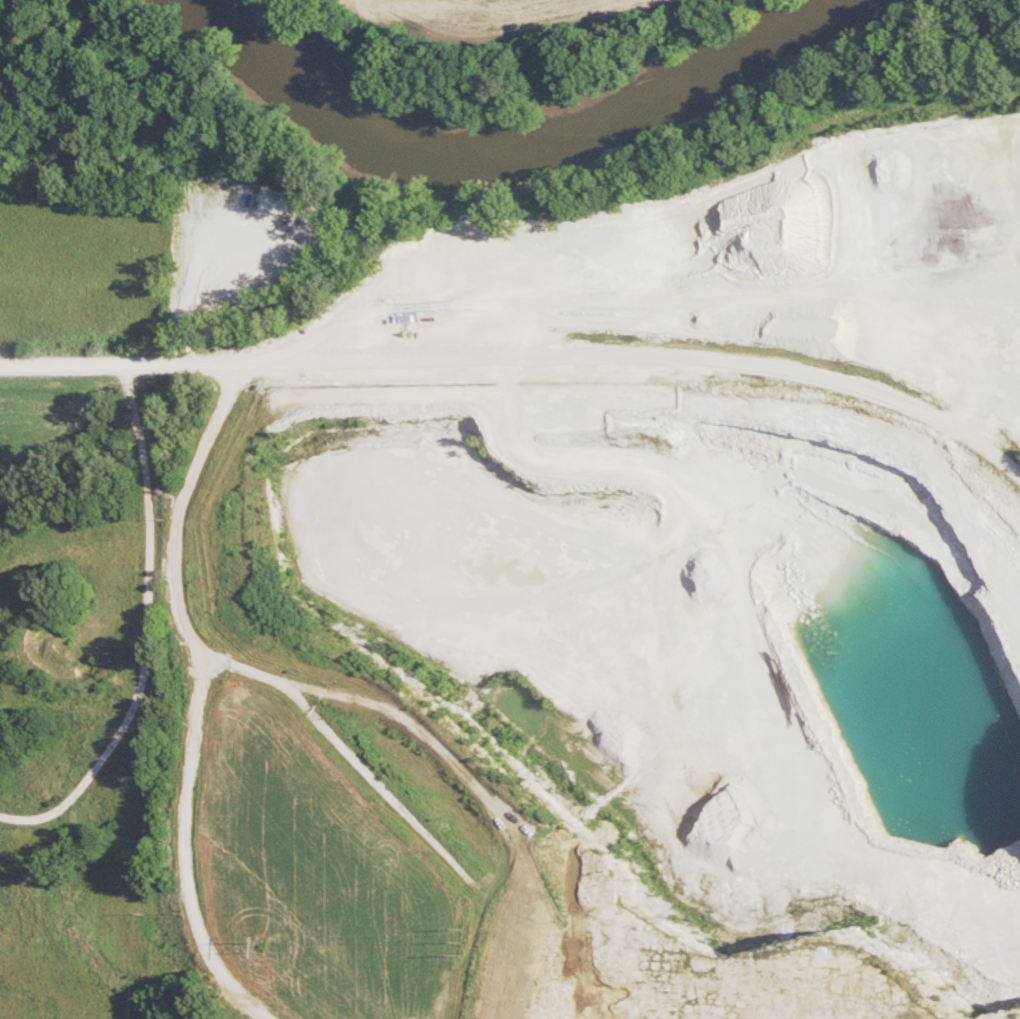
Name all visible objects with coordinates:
river: (538, 136)
road: (523, 349)
road: (294, 689)
power tower: (259, 942)
power tower: (457, 942)

